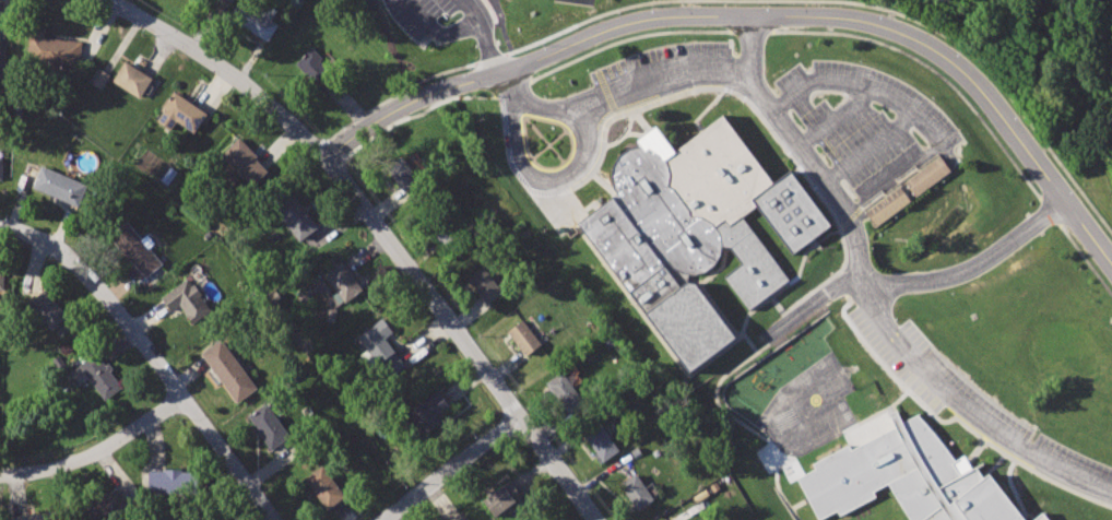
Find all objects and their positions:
building: (228, 0)
road: (484, 1)
road: (115, 3)
road: (471, 8)
road: (754, 15)
building: (256, 19)
parking lot: (439, 19)
road: (581, 21)
road: (749, 29)
road: (435, 34)
road: (625, 37)
road: (487, 45)
building: (54, 49)
road: (489, 57)
building: (1, 59)
road: (930, 68)
building: (317, 71)
parking lot: (663, 73)
building: (99, 78)
building: (132, 78)
road: (661, 79)
road: (510, 85)
road: (998, 86)
road: (398, 93)
road: (516, 98)
road: (706, 109)
building: (180, 113)
road: (415, 113)
road: (759, 113)
road: (915, 113)
road: (835, 117)
road: (640, 121)
road: (623, 133)
road: (632, 133)
parking lot: (862, 137)
road: (317, 144)
road: (336, 145)
road: (871, 147)
building: (242, 161)
building: (1, 167)
road: (795, 170)
road: (570, 173)
building: (926, 174)
building: (406, 178)
building: (58, 184)
road: (602, 185)
building: (886, 205)
road: (1048, 210)
building: (297, 217)
building: (695, 229)
building: (446, 232)
road: (381, 238)
building: (135, 248)
road: (1085, 260)
road: (718, 268)
road: (710, 270)
building: (1, 279)
road: (920, 280)
building: (342, 281)
building: (485, 284)
building: (186, 298)
road: (865, 299)
road: (713, 303)
building: (48, 310)
building: (524, 336)
building: (381, 345)
road: (151, 355)
road: (677, 362)
building: (228, 369)
building: (96, 373)
building: (564, 390)
road: (885, 409)
road: (891, 409)
building: (428, 411)
road: (946, 421)
road: (741, 422)
parking lot: (1003, 425)
building: (268, 426)
building: (600, 438)
road: (97, 451)
road: (977, 451)
road: (996, 463)
road: (452, 471)
building: (907, 477)
building: (171, 480)
building: (324, 486)
building: (636, 493)
building: (500, 495)
building: (108, 506)
building: (34, 515)
building: (458, 517)

